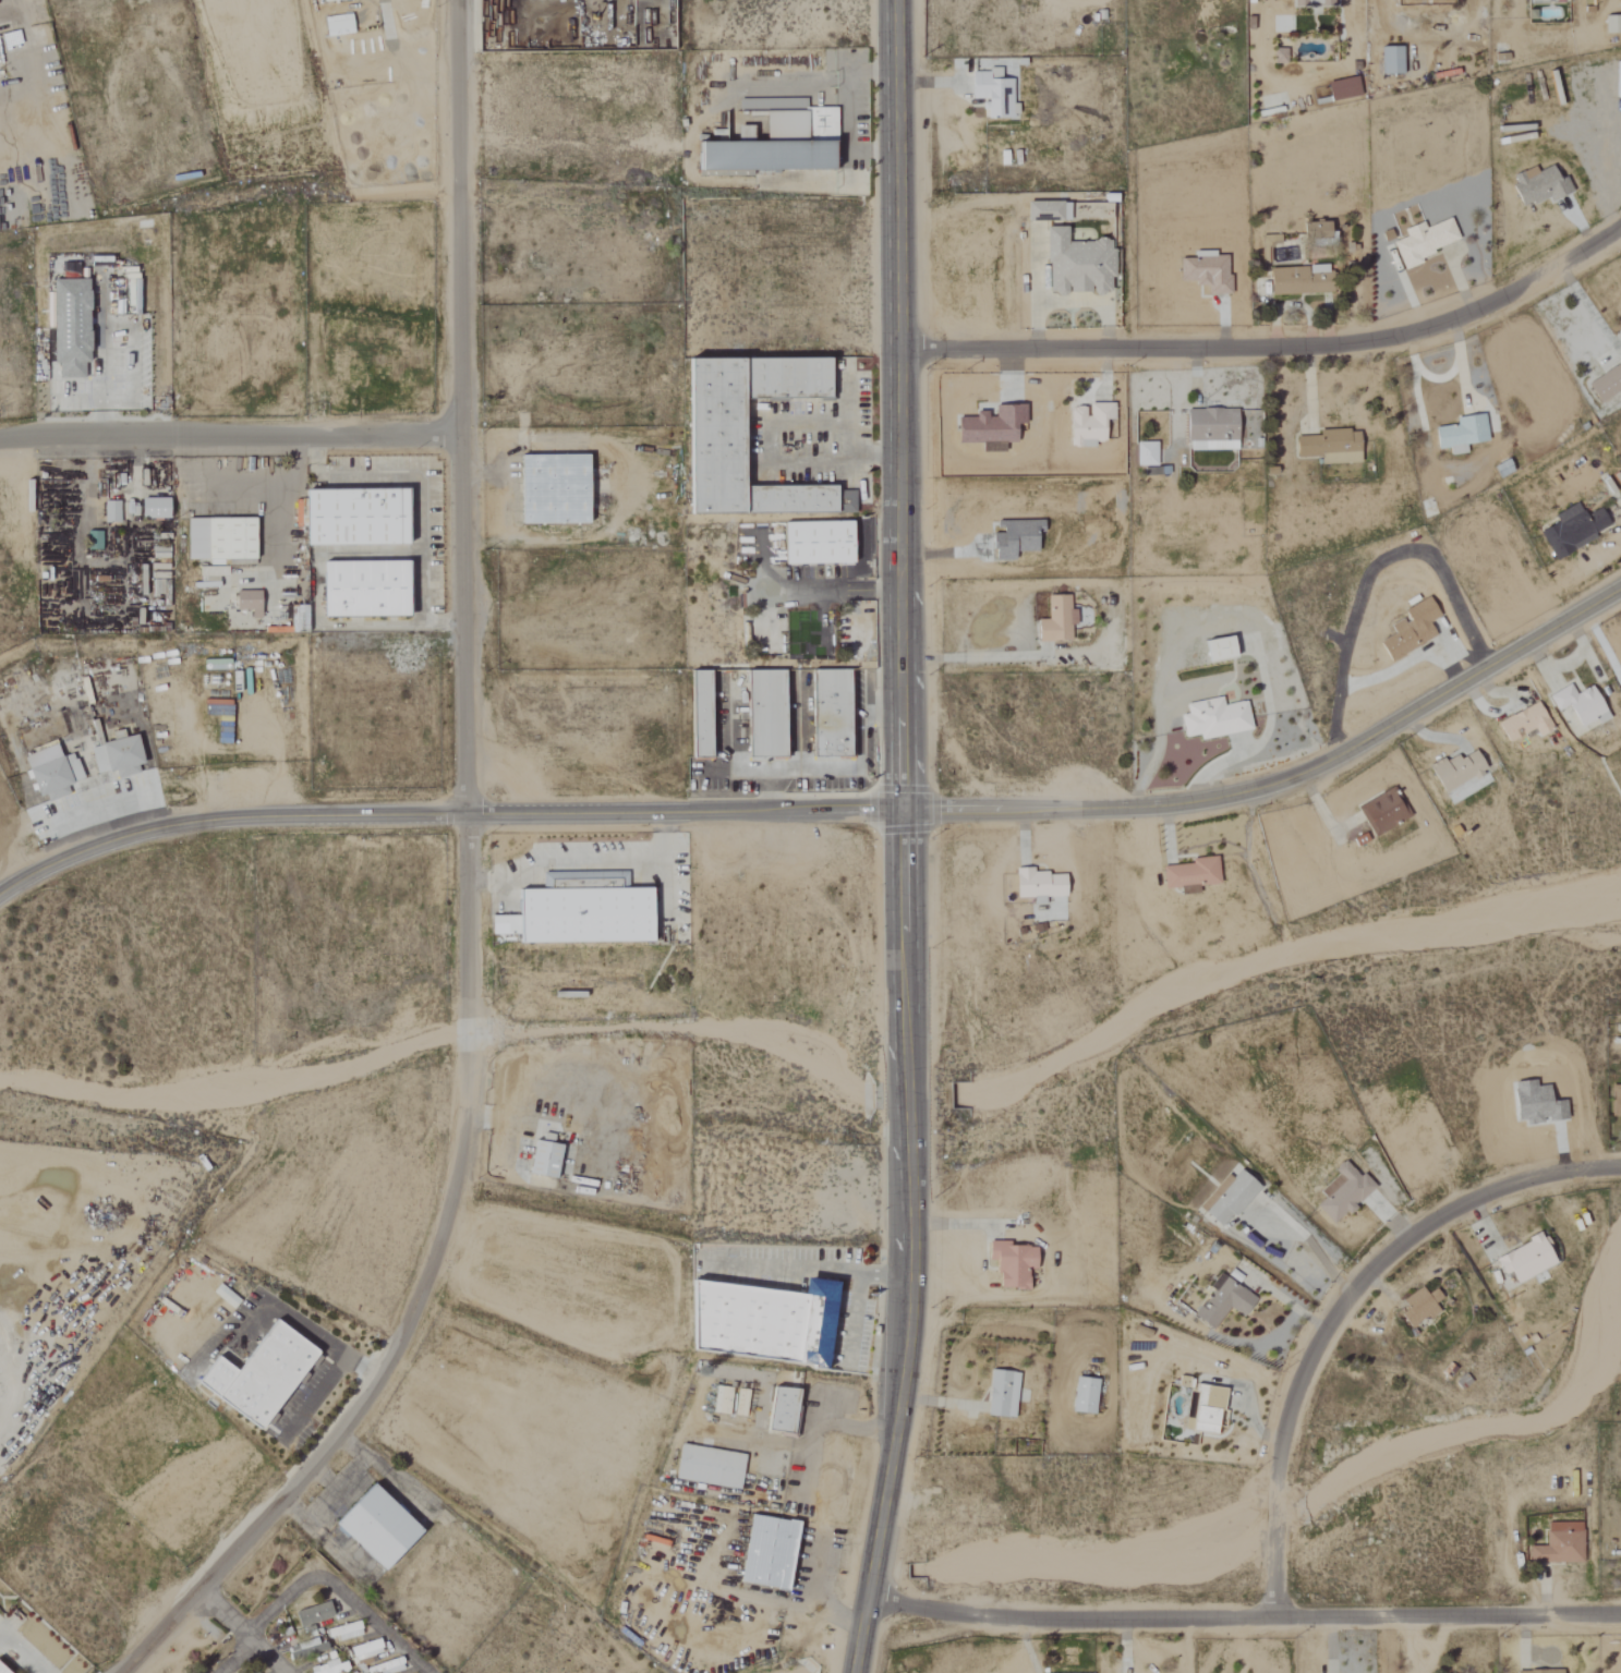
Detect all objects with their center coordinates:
building: (330, 0)
building: (1311, 3)
building: (1611, 24)
building: (337, 25)
building: (1279, 57)
building: (1390, 61)
building: (1342, 89)
building: (991, 94)
building: (774, 141)
building: (1537, 186)
building: (1041, 211)
building: (1318, 230)
building: (1269, 240)
building: (1424, 241)
building: (96, 262)
building: (1075, 265)
building: (1205, 274)
building: (1298, 280)
building: (131, 293)
building: (1620, 302)
building: (66, 323)
road: (1273, 348)
building: (1606, 384)
building: (1087, 424)
building: (990, 427)
building: (1210, 429)
building: (1460, 434)
road: (229, 436)
building: (711, 444)
building: (1329, 447)
road: (770, 454)
building: (1145, 454)
building: (551, 490)
road: (420, 498)
building: (152, 509)
road: (498, 511)
building: (109, 512)
building: (352, 518)
building: (1571, 531)
building: (1014, 540)
building: (92, 541)
building: (219, 542)
building: (814, 544)
road: (1370, 571)
building: (209, 574)
building: (361, 590)
road: (849, 590)
building: (246, 603)
building: (1055, 621)
building: (1408, 631)
road: (1602, 646)
building: (1217, 651)
road: (1467, 656)
road: (1395, 668)
road: (1454, 669)
building: (1577, 705)
building: (698, 715)
building: (763, 715)
building: (827, 715)
building: (1213, 719)
building: (1523, 724)
building: (116, 757)
road: (839, 769)
building: (1454, 772)
building: (49, 773)
road: (831, 812)
building: (1381, 813)
road: (903, 838)
building: (1189, 875)
building: (1037, 885)
road: (464, 892)
building: (583, 912)
building: (503, 925)
building: (1616, 1101)
building: (542, 1159)
building: (1342, 1192)
building: (1229, 1199)
building: (1523, 1259)
building: (1009, 1264)
road: (789, 1269)
road: (856, 1297)
building: (1221, 1302)
road: (1341, 1307)
building: (1418, 1307)
building: (764, 1322)
building: (256, 1375)
building: (1000, 1394)
building: (1081, 1396)
building: (719, 1399)
road: (816, 1408)
building: (778, 1410)
building: (1207, 1410)
road: (816, 1426)
building: (707, 1467)
building: (372, 1527)
building: (1558, 1544)
building: (765, 1553)
road: (338, 1591)
road: (812, 1596)
building: (312, 1614)
road: (1244, 1616)
road: (243, 1630)
building: (343, 1632)
road: (1238, 1645)
building: (365, 1649)
road: (23, 1650)
building: (303, 1651)
road: (238, 1657)
building: (329, 1668)
building: (1538, 1671)
building: (0, 1672)

